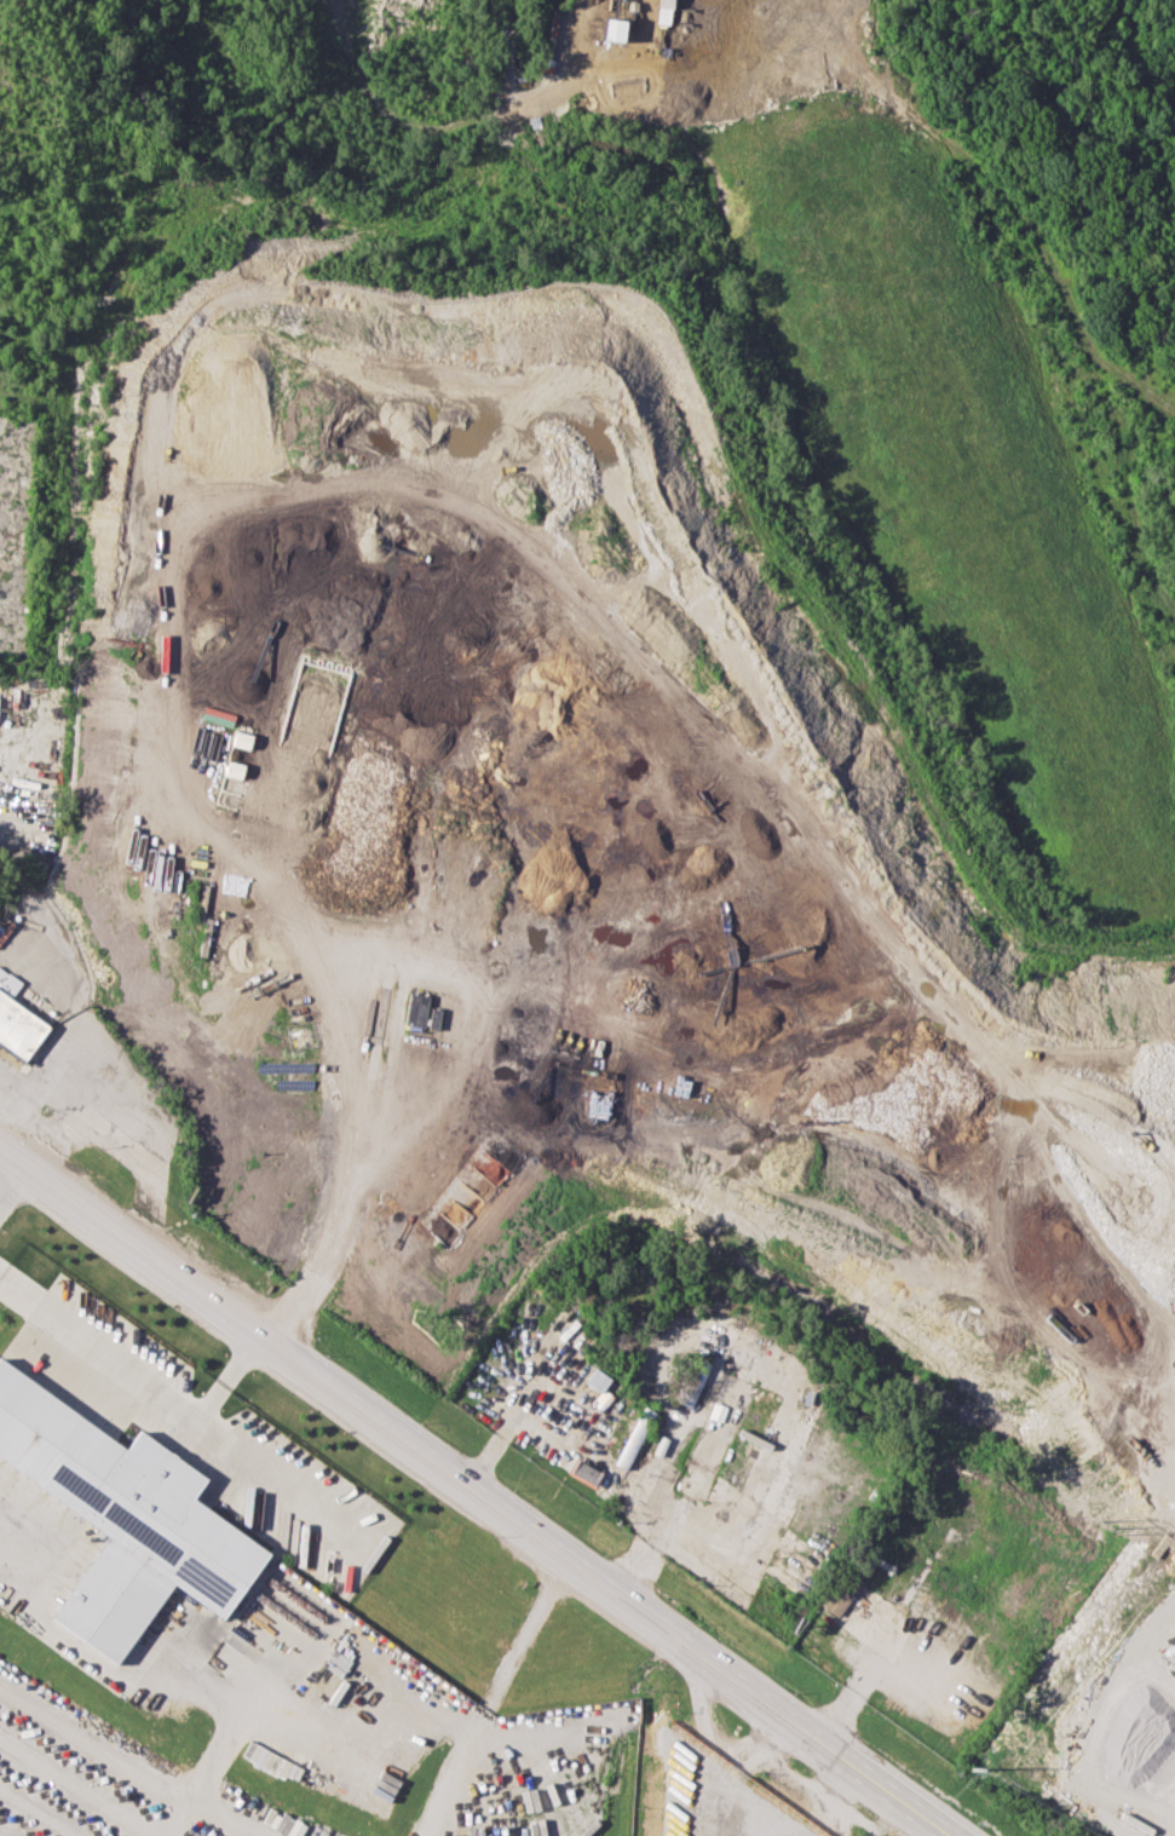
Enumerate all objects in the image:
building: (662, 11)
building: (611, 28)
road: (1038, 264)
building: (411, 1008)
building: (16, 1020)
road: (351, 1141)
road: (11, 1180)
road: (225, 1376)
building: (692, 1382)
road: (180, 1410)
road: (501, 1429)
building: (633, 1437)
road: (473, 1490)
building: (125, 1518)
power tower: (1095, 1521)
building: (840, 1593)
building: (894, 1617)
road: (491, 1696)
road: (843, 1698)
road: (709, 1743)
road: (126, 1760)
power tower: (964, 1772)
road: (851, 1803)
road: (182, 1819)

